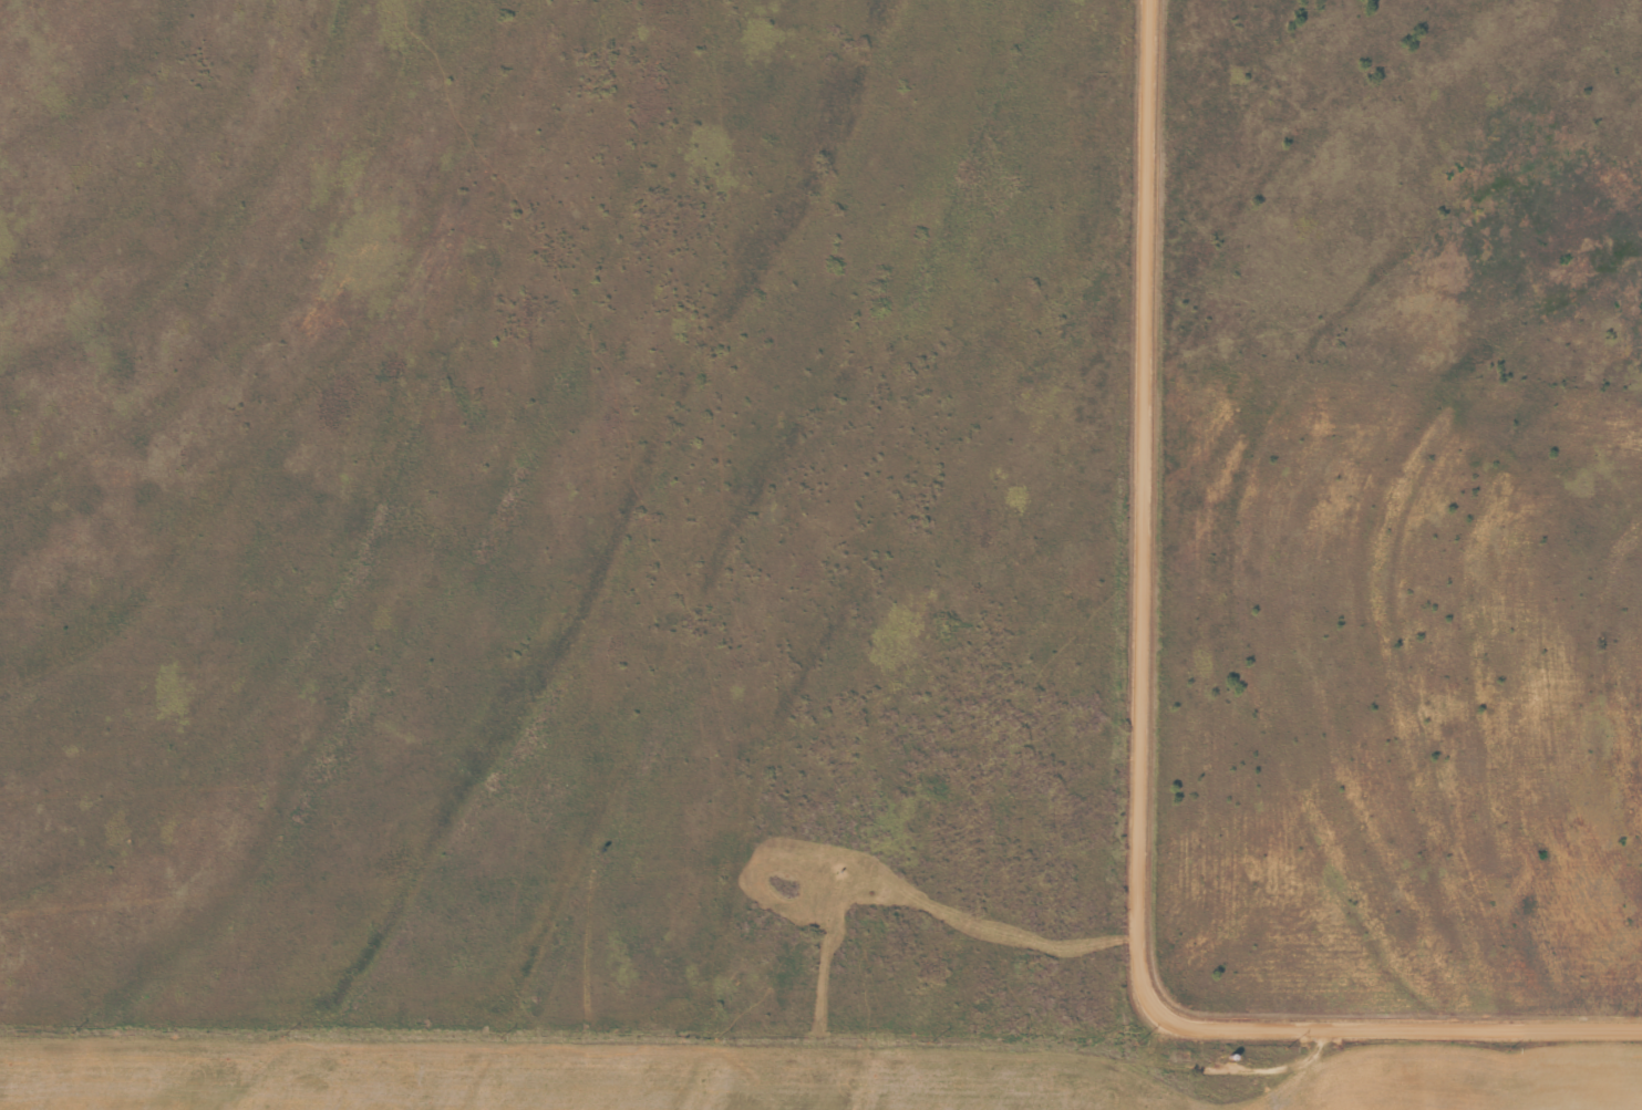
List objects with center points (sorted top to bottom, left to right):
road: (1144, 745)

